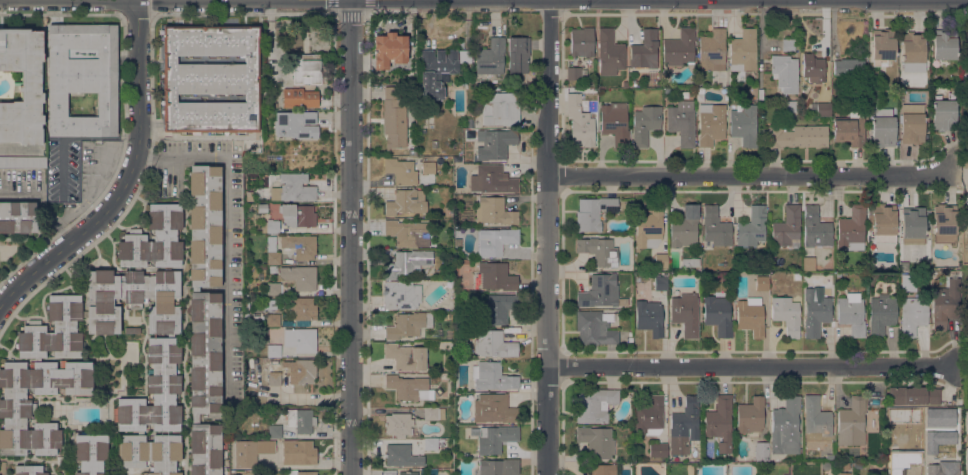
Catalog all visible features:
road: (368, 6)
road: (962, 15)
building: (581, 42)
building: (788, 45)
building: (882, 46)
building: (944, 46)
building: (679, 47)
building: (912, 47)
building: (389, 49)
building: (644, 50)
building: (712, 50)
building: (743, 51)
building: (609, 52)
building: (518, 54)
building: (490, 57)
building: (813, 68)
building: (849, 68)
building: (439, 70)
building: (306, 71)
building: (575, 72)
building: (784, 73)
building: (650, 74)
building: (966, 75)
building: (83, 77)
building: (211, 78)
building: (633, 83)
building: (624, 84)
building: (22, 86)
building: (760, 94)
building: (302, 98)
building: (789, 106)
building: (501, 109)
building: (823, 109)
building: (943, 115)
building: (394, 118)
building: (580, 119)
building: (614, 120)
building: (682, 122)
building: (911, 123)
building: (295, 124)
building: (710, 124)
building: (644, 125)
building: (743, 125)
building: (882, 128)
building: (850, 129)
building: (797, 137)
building: (494, 143)
road: (19, 148)
building: (411, 152)
building: (23, 162)
building: (428, 167)
building: (162, 169)
building: (400, 171)
road: (749, 175)
road: (959, 179)
building: (492, 180)
road: (131, 183)
building: (296, 186)
building: (249, 196)
building: (406, 202)
building: (262, 208)
building: (494, 211)
building: (592, 212)
building: (297, 215)
building: (17, 217)
building: (883, 223)
building: (944, 223)
building: (912, 224)
building: (270, 226)
building: (650, 226)
building: (684, 227)
building: (715, 227)
building: (752, 227)
building: (787, 227)
building: (815, 228)
building: (852, 228)
road: (227, 230)
building: (408, 233)
road: (352, 237)
road: (546, 237)
building: (494, 241)
road: (368, 243)
building: (299, 245)
building: (599, 251)
building: (273, 258)
building: (660, 260)
building: (690, 262)
building: (407, 263)
building: (263, 267)
building: (272, 269)
building: (299, 277)
building: (493, 277)
building: (75, 282)
building: (908, 282)
building: (660, 283)
building: (762, 283)
building: (273, 289)
building: (601, 292)
building: (401, 295)
building: (280, 303)
building: (945, 303)
building: (271, 304)
building: (632, 306)
building: (261, 308)
building: (498, 308)
building: (302, 309)
building: (815, 311)
building: (851, 313)
building: (685, 314)
building: (881, 314)
building: (718, 315)
building: (786, 315)
building: (912, 315)
building: (204, 317)
building: (649, 317)
building: (750, 317)
building: (273, 320)
building: (255, 323)
building: (408, 325)
building: (594, 329)
building: (132, 331)
building: (300, 339)
building: (49, 341)
building: (494, 344)
building: (273, 351)
building: (406, 357)
building: (257, 367)
road: (753, 367)
building: (273, 371)
building: (300, 371)
building: (493, 377)
building: (409, 388)
building: (438, 391)
building: (916, 396)
building: (48, 402)
building: (594, 405)
building: (494, 409)
building: (261, 412)
building: (433, 413)
building: (750, 415)
building: (649, 416)
building: (938, 417)
building: (816, 419)
building: (300, 420)
building: (965, 421)
building: (720, 422)
building: (851, 422)
building: (398, 424)
building: (684, 426)
building: (785, 427)
building: (274, 431)
building: (495, 439)
building: (937, 439)
road: (967, 439)
building: (596, 441)
building: (430, 444)
building: (658, 450)
building: (300, 451)
building: (761, 452)
building: (90, 454)
building: (243, 454)
building: (401, 455)
building: (965, 457)
building: (275, 462)
building: (2, 467)
building: (492, 467)
building: (908, 469)
building: (941, 469)
building: (28, 470)
building: (603, 470)
building: (301, 472)
building: (432, 472)
building: (407, 473)
building: (842, 474)

